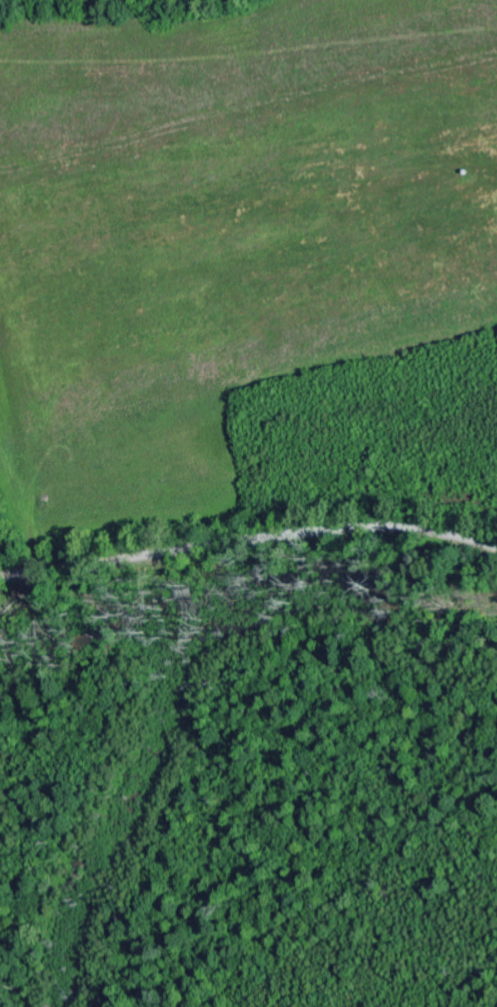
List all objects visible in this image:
road: (248, 535)

